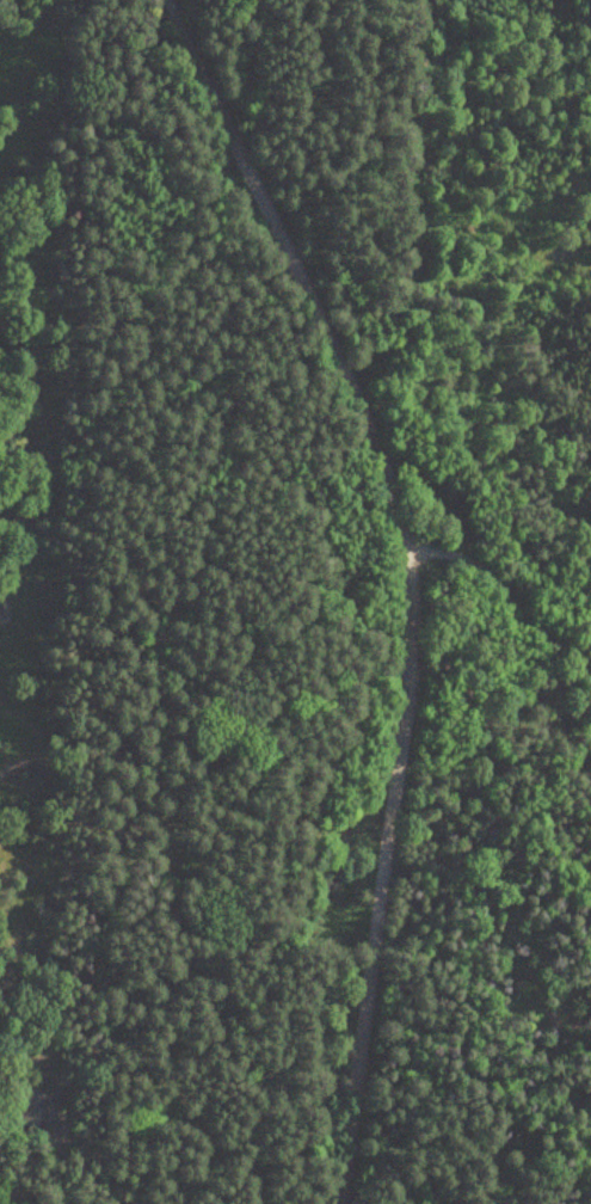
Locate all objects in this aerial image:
road: (410, 580)
park: (320, 606)

